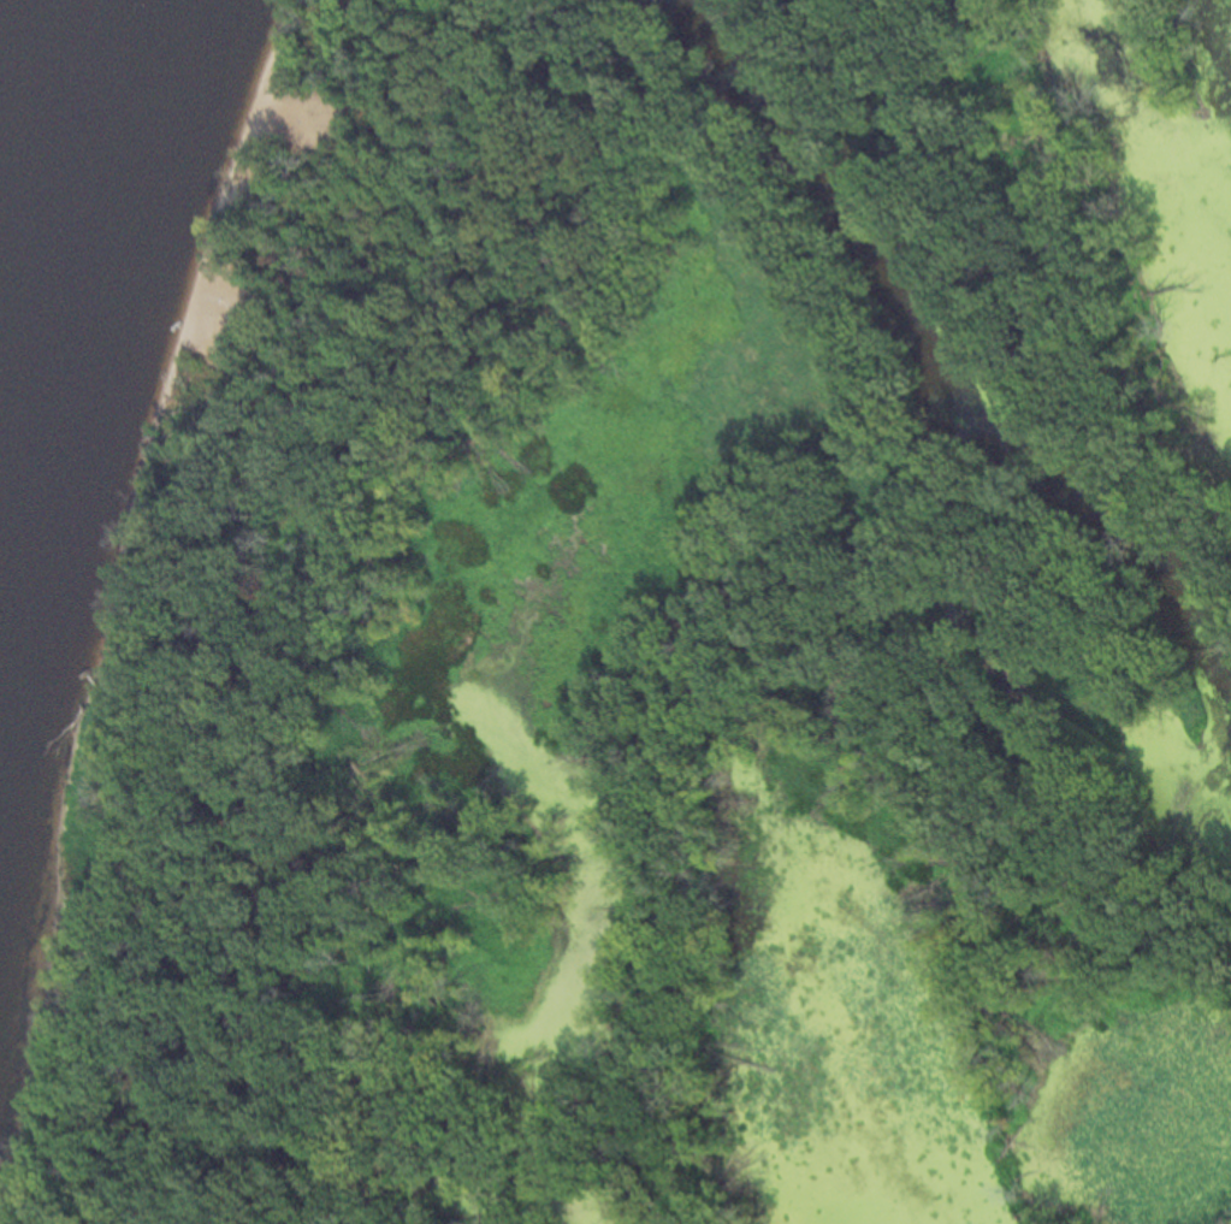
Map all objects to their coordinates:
building: (174, 233)

